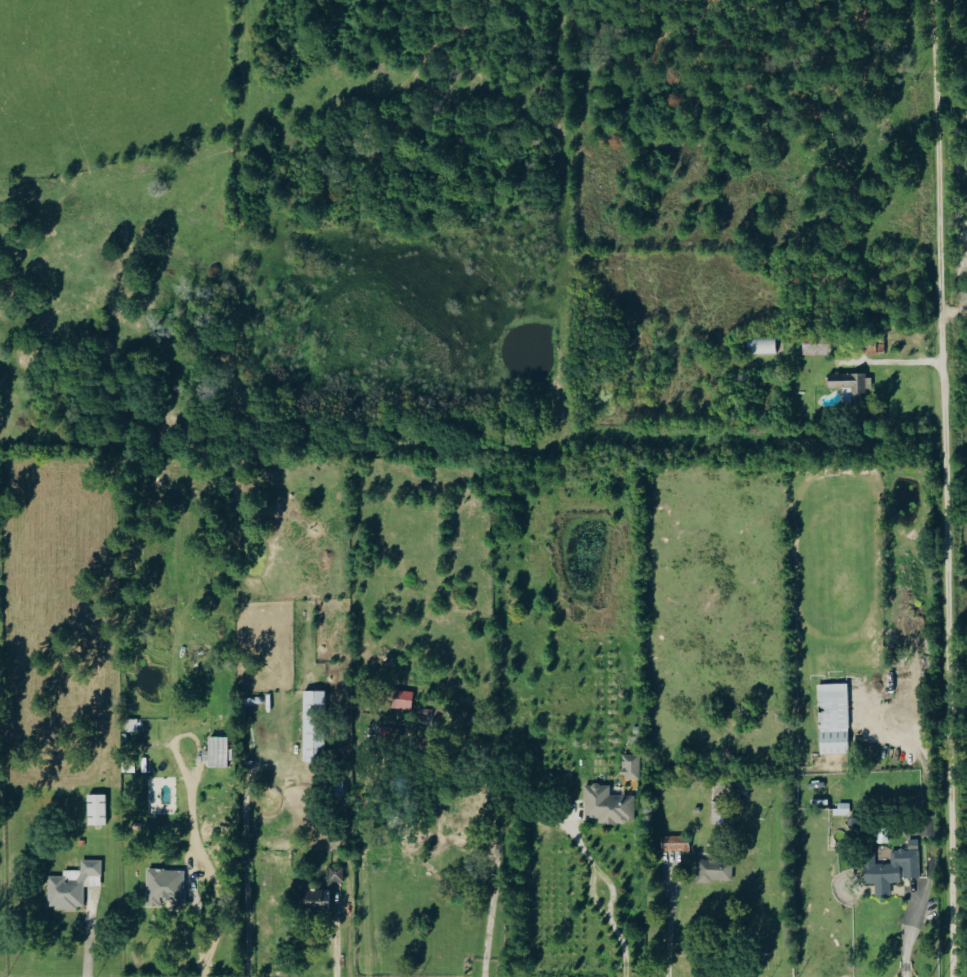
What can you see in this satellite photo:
road: (936, 10)
building: (761, 346)
building: (850, 385)
road: (945, 499)
building: (402, 699)
building: (833, 719)
building: (313, 726)
building: (216, 753)
building: (631, 767)
building: (607, 806)
building: (842, 809)
building: (96, 810)
building: (460, 814)
building: (675, 844)
road: (196, 845)
building: (892, 868)
building: (714, 871)
road: (247, 875)
building: (335, 875)
building: (73, 886)
building: (165, 888)
road: (613, 896)
road: (193, 897)
building: (315, 901)
road: (670, 923)
road: (489, 934)
road: (908, 944)

